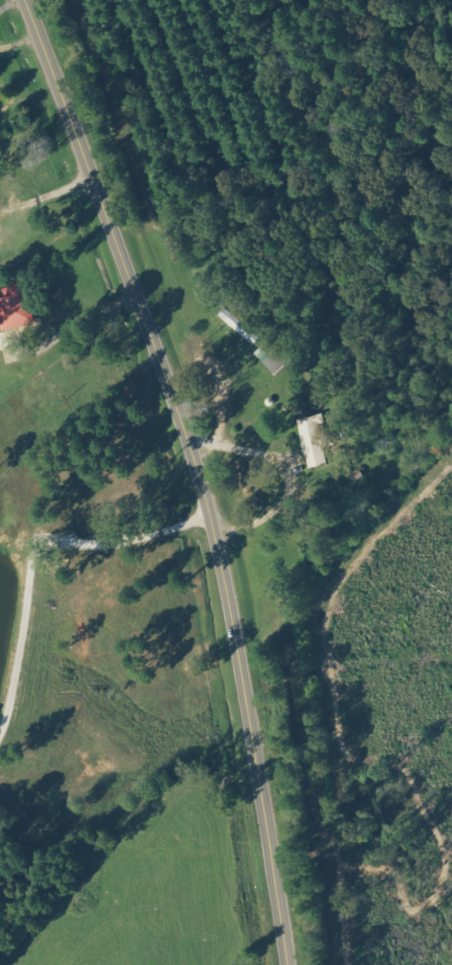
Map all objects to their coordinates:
building: (14, 307)
building: (238, 326)
building: (273, 357)
building: (313, 441)
road: (195, 471)

